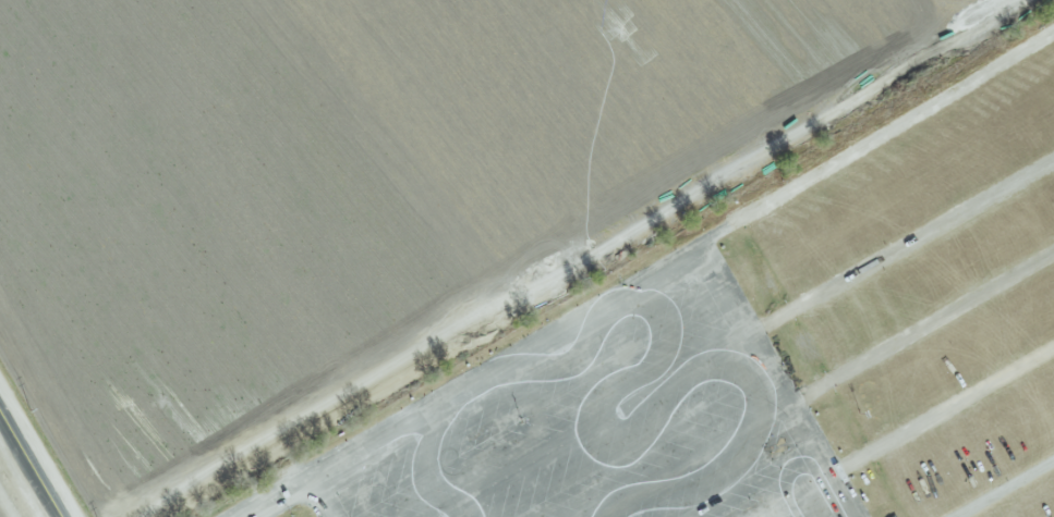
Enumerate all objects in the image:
road: (874, 141)
road: (899, 245)
road: (920, 329)
road: (504, 366)
road: (772, 383)
road: (940, 410)
parking lot: (604, 419)
road: (36, 454)
road: (1002, 487)
road: (279, 497)
road: (323, 497)

